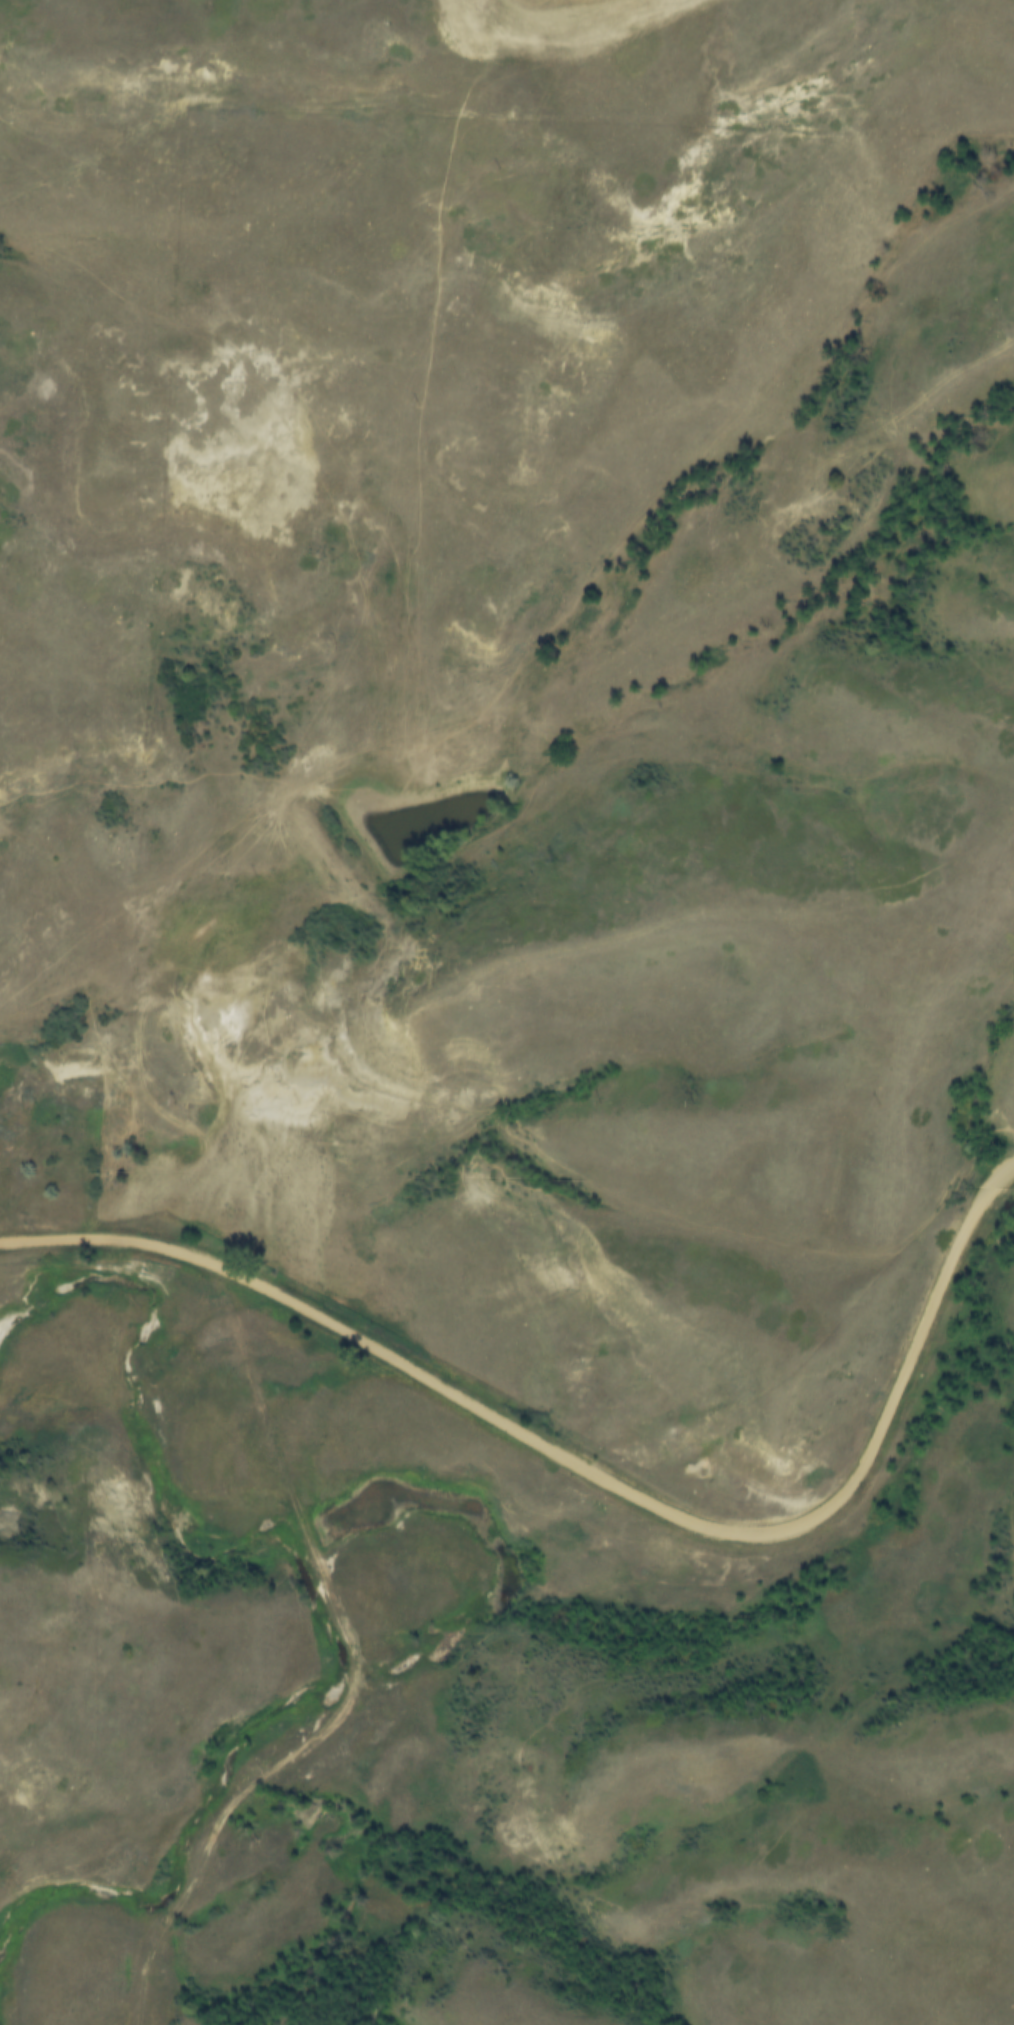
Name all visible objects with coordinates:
road: (595, 1470)
road: (355, 1673)

